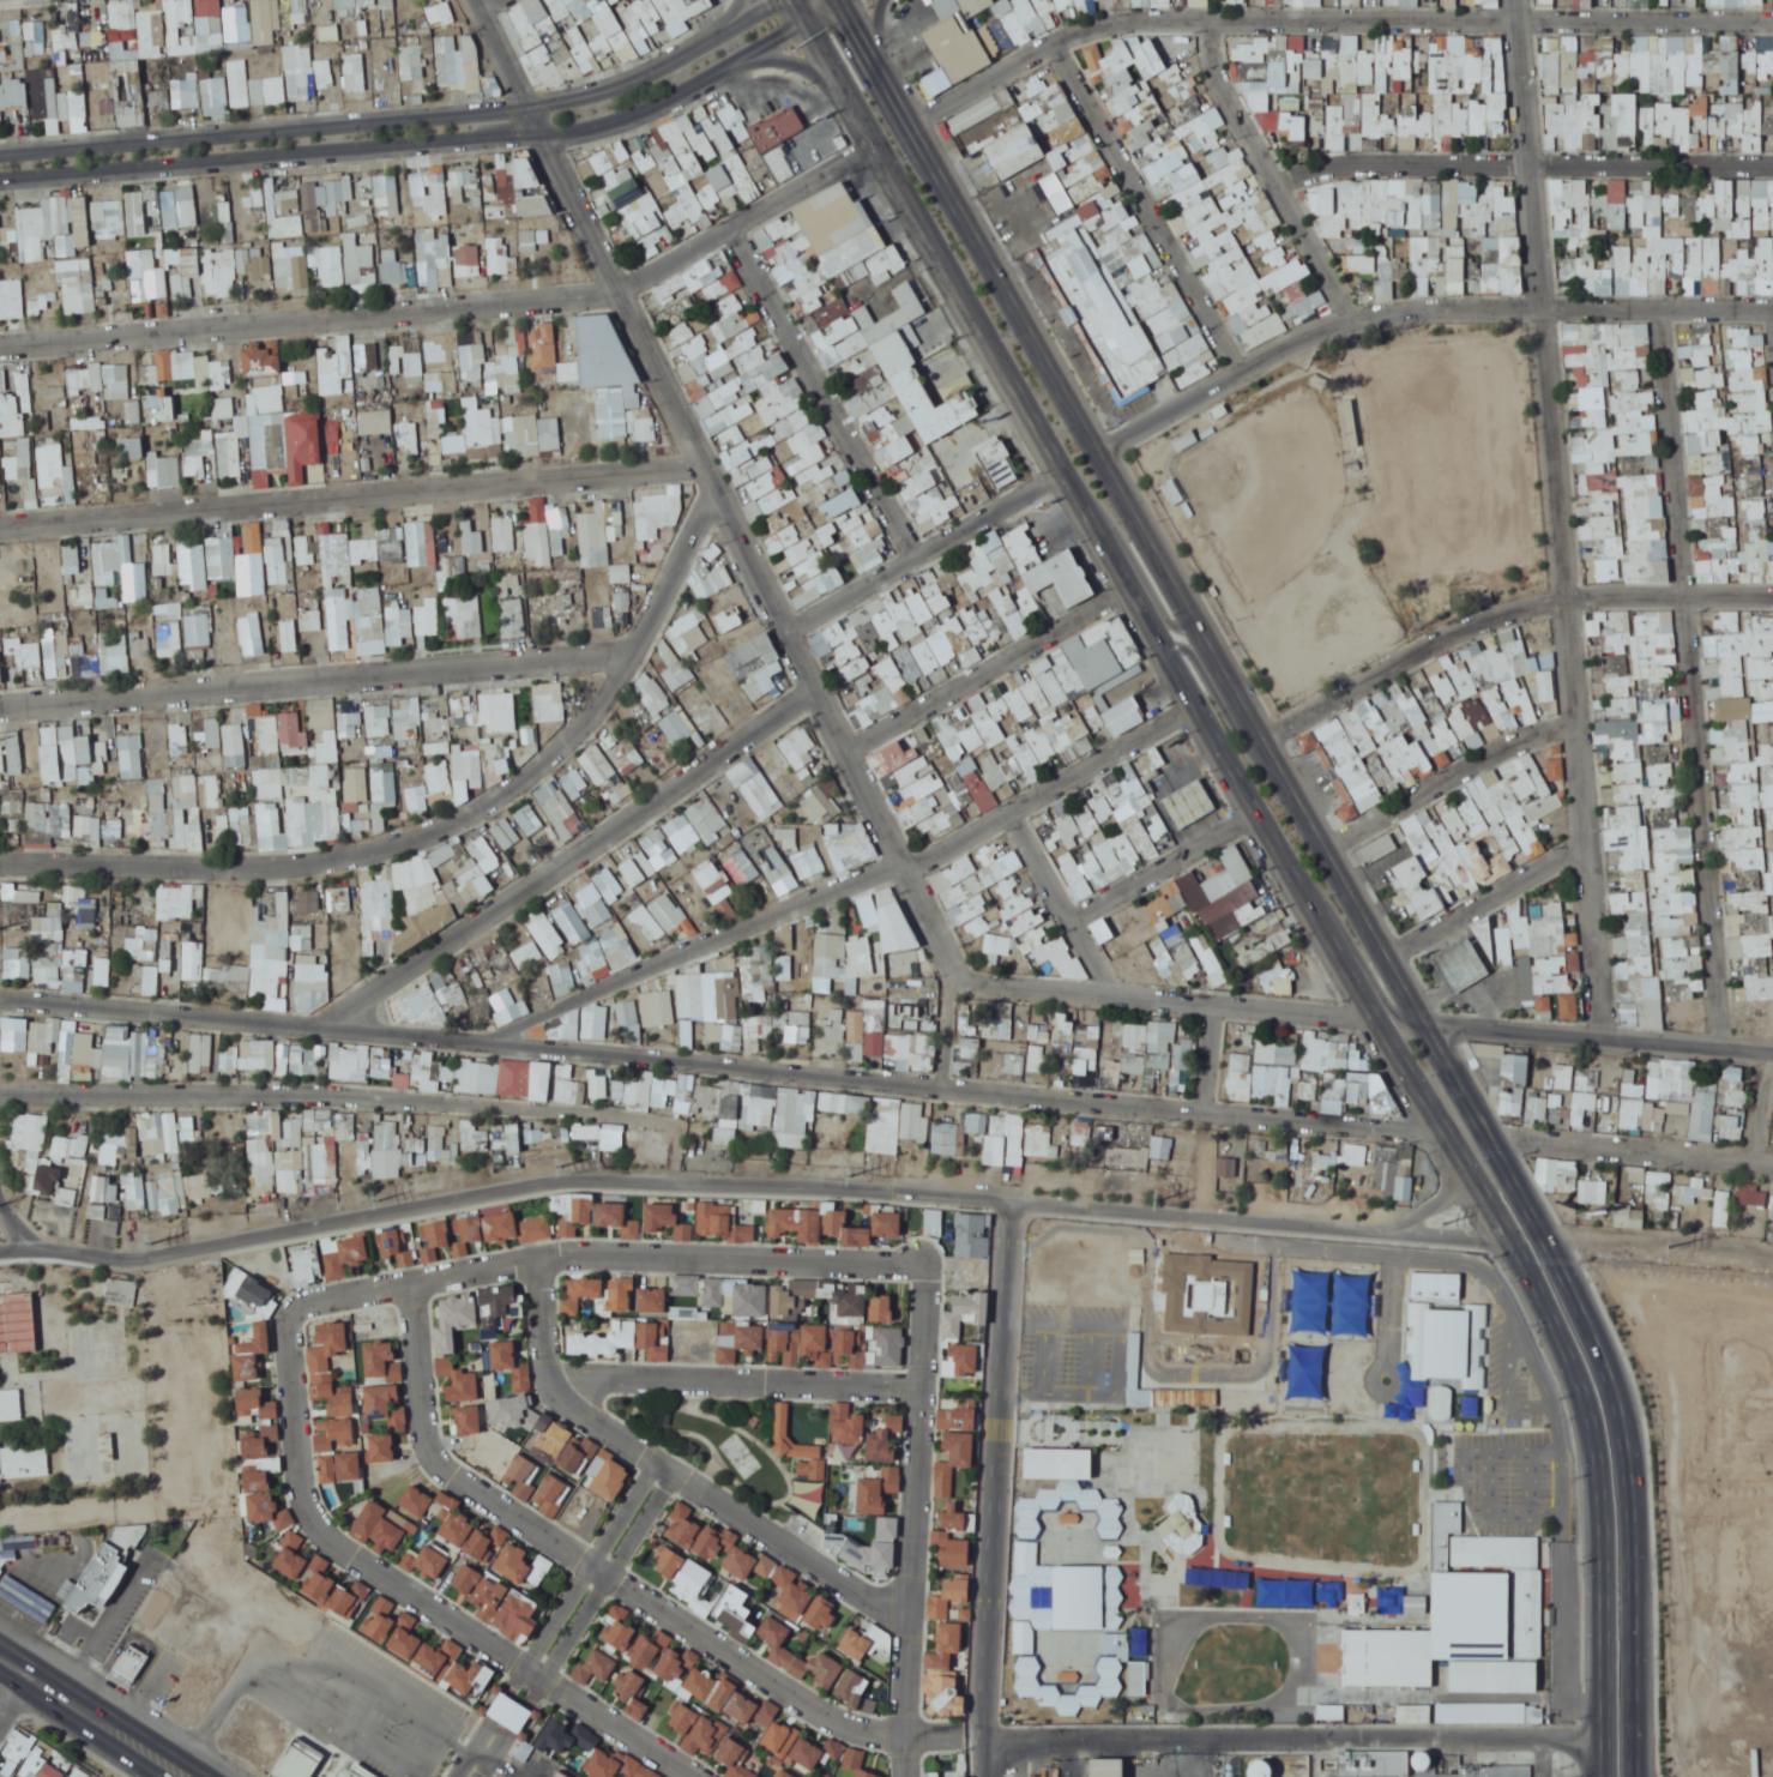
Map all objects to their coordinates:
road: (489, 5)
road: (828, 12)
road: (1332, 18)
road: (732, 20)
road: (878, 23)
road: (800, 68)
road: (681, 95)
road: (405, 120)
road: (512, 140)
road: (545, 143)
road: (240, 161)
road: (1525, 163)
road: (1273, 171)
road: (1148, 206)
road: (748, 213)
road: (929, 236)
road: (1417, 307)
road: (309, 313)
road: (1032, 336)
road: (826, 390)
road: (354, 494)
road: (1560, 519)
road: (1693, 676)
road: (813, 679)
gas station: (1189, 807)
gas station: (1457, 959)
road: (104, 1707)

